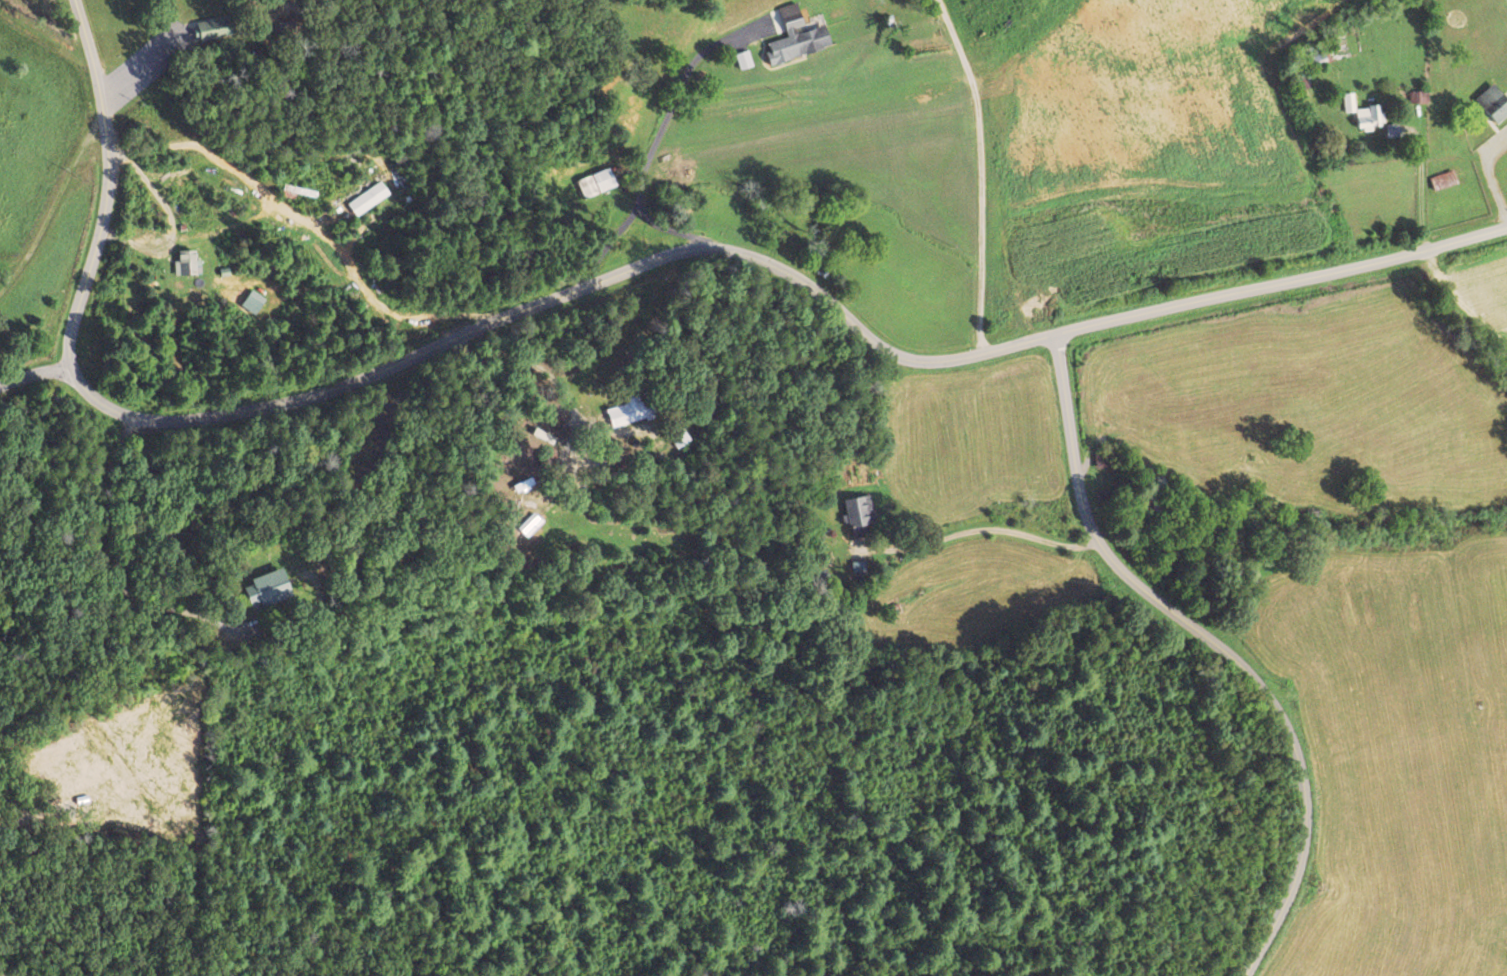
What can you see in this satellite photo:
building: (212, 28)
building: (796, 36)
building: (743, 59)
building: (1493, 102)
building: (1363, 112)
building: (1391, 129)
building: (596, 182)
building: (367, 198)
building: (186, 263)
road: (1283, 277)
building: (252, 302)
road: (395, 354)
road: (40, 370)
building: (628, 411)
building: (680, 439)
building: (857, 510)
road: (1221, 643)

